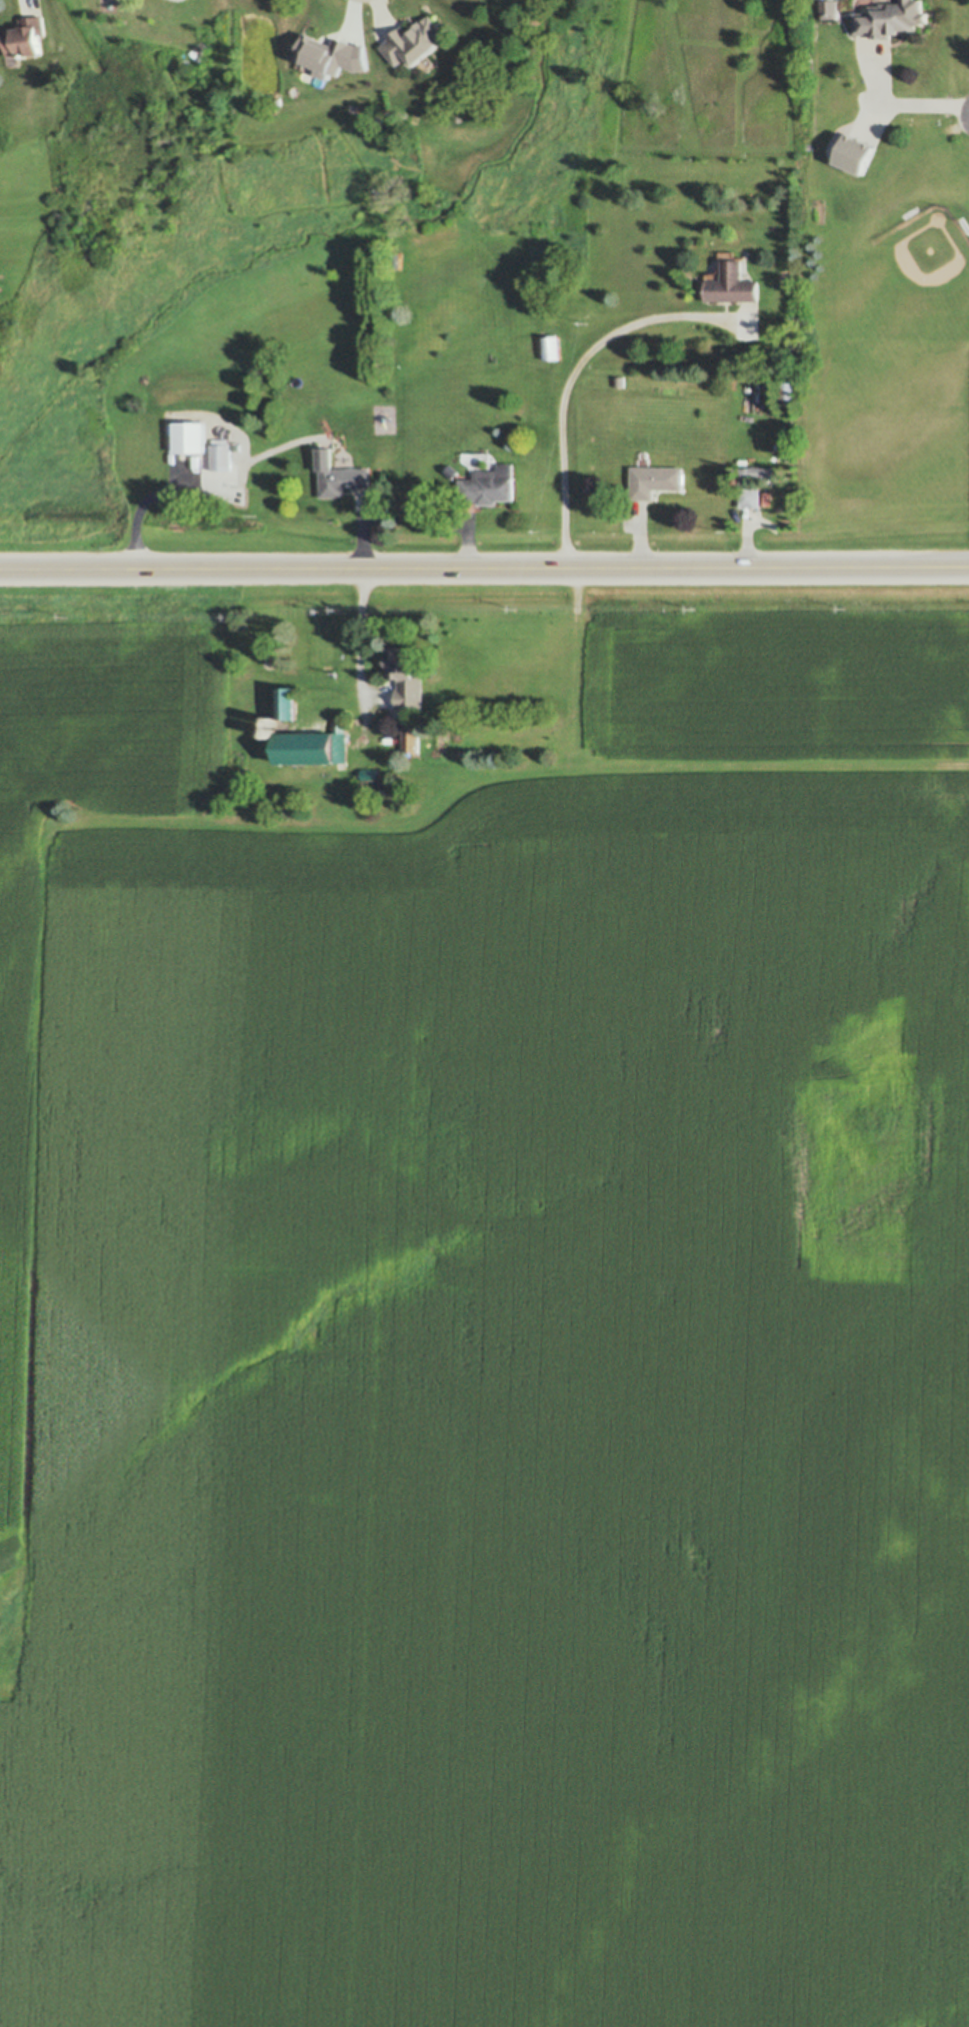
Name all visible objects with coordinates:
road: (27, 2)
building: (830, 9)
building: (891, 19)
building: (25, 37)
building: (416, 42)
road: (899, 104)
building: (855, 154)
building: (731, 281)
building: (552, 348)
building: (794, 371)
road: (570, 379)
building: (620, 381)
building: (790, 392)
building: (189, 438)
building: (223, 453)
building: (452, 471)
building: (763, 473)
building: (339, 476)
building: (655, 481)
building: (490, 486)
building: (750, 497)
road: (484, 570)
road: (366, 635)
building: (407, 678)
building: (290, 706)
building: (274, 722)
building: (412, 738)
building: (314, 749)
building: (372, 774)

